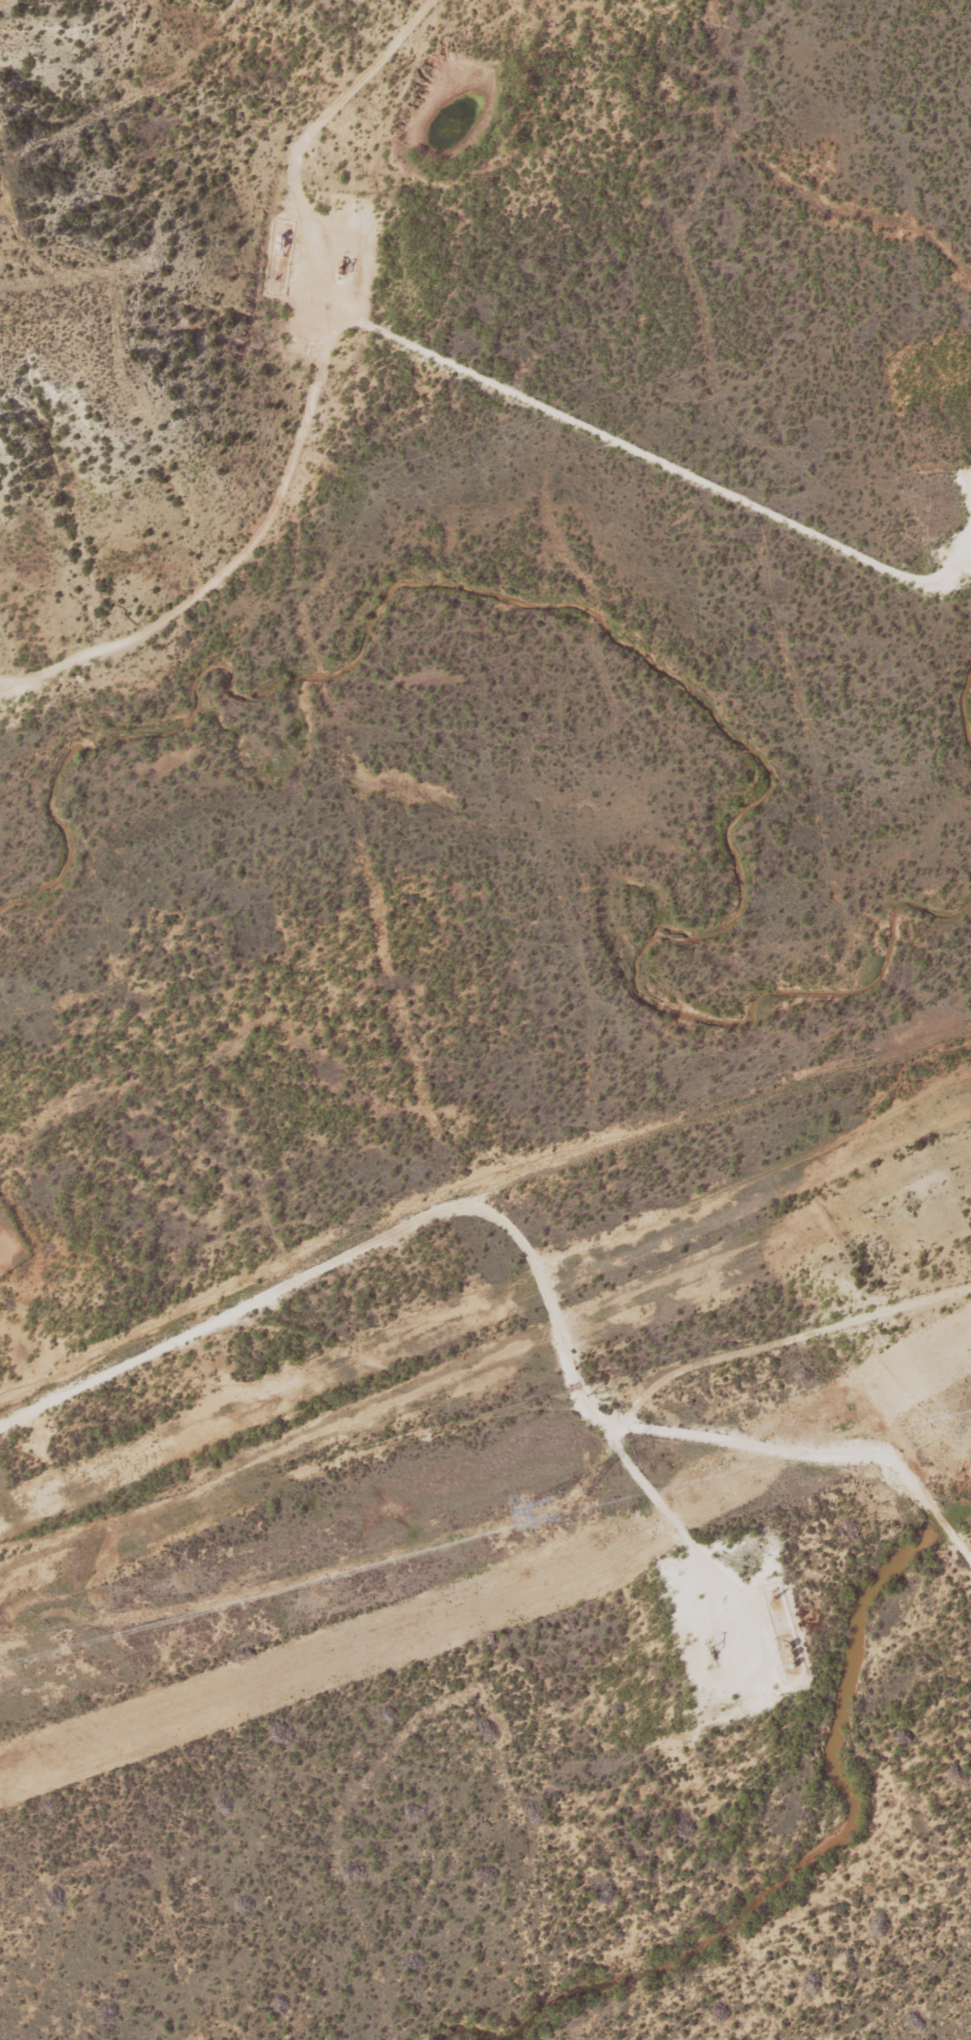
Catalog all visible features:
power tower: (545, 1510)

